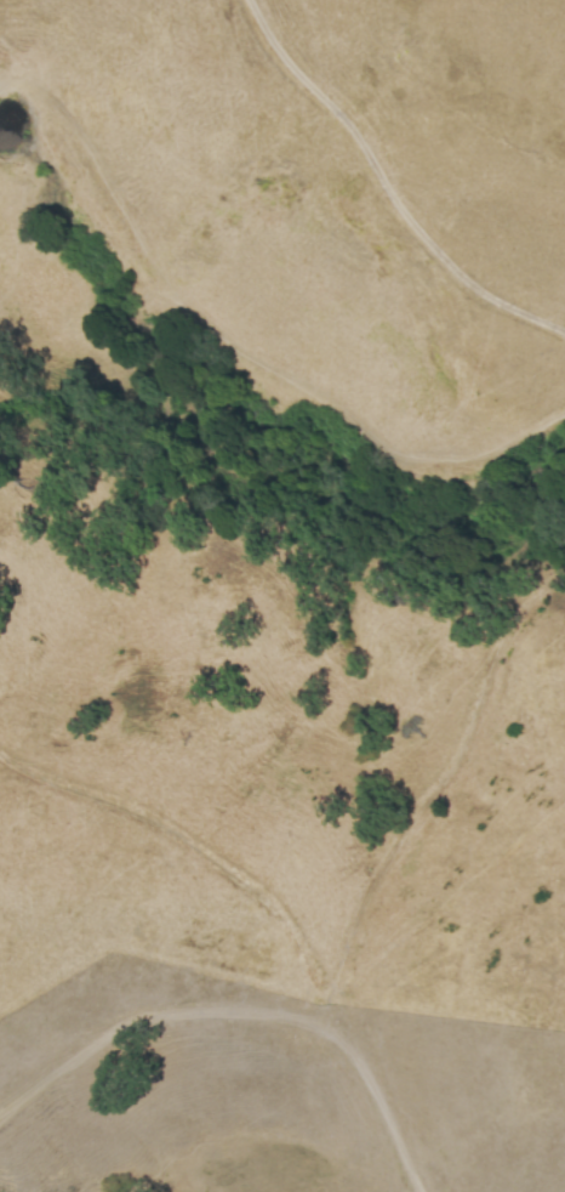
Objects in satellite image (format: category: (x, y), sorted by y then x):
road: (444, 101)
road: (387, 186)
road: (245, 346)
road: (444, 784)
road: (190, 841)
road: (445, 898)
road: (247, 1010)
road: (327, 1011)

